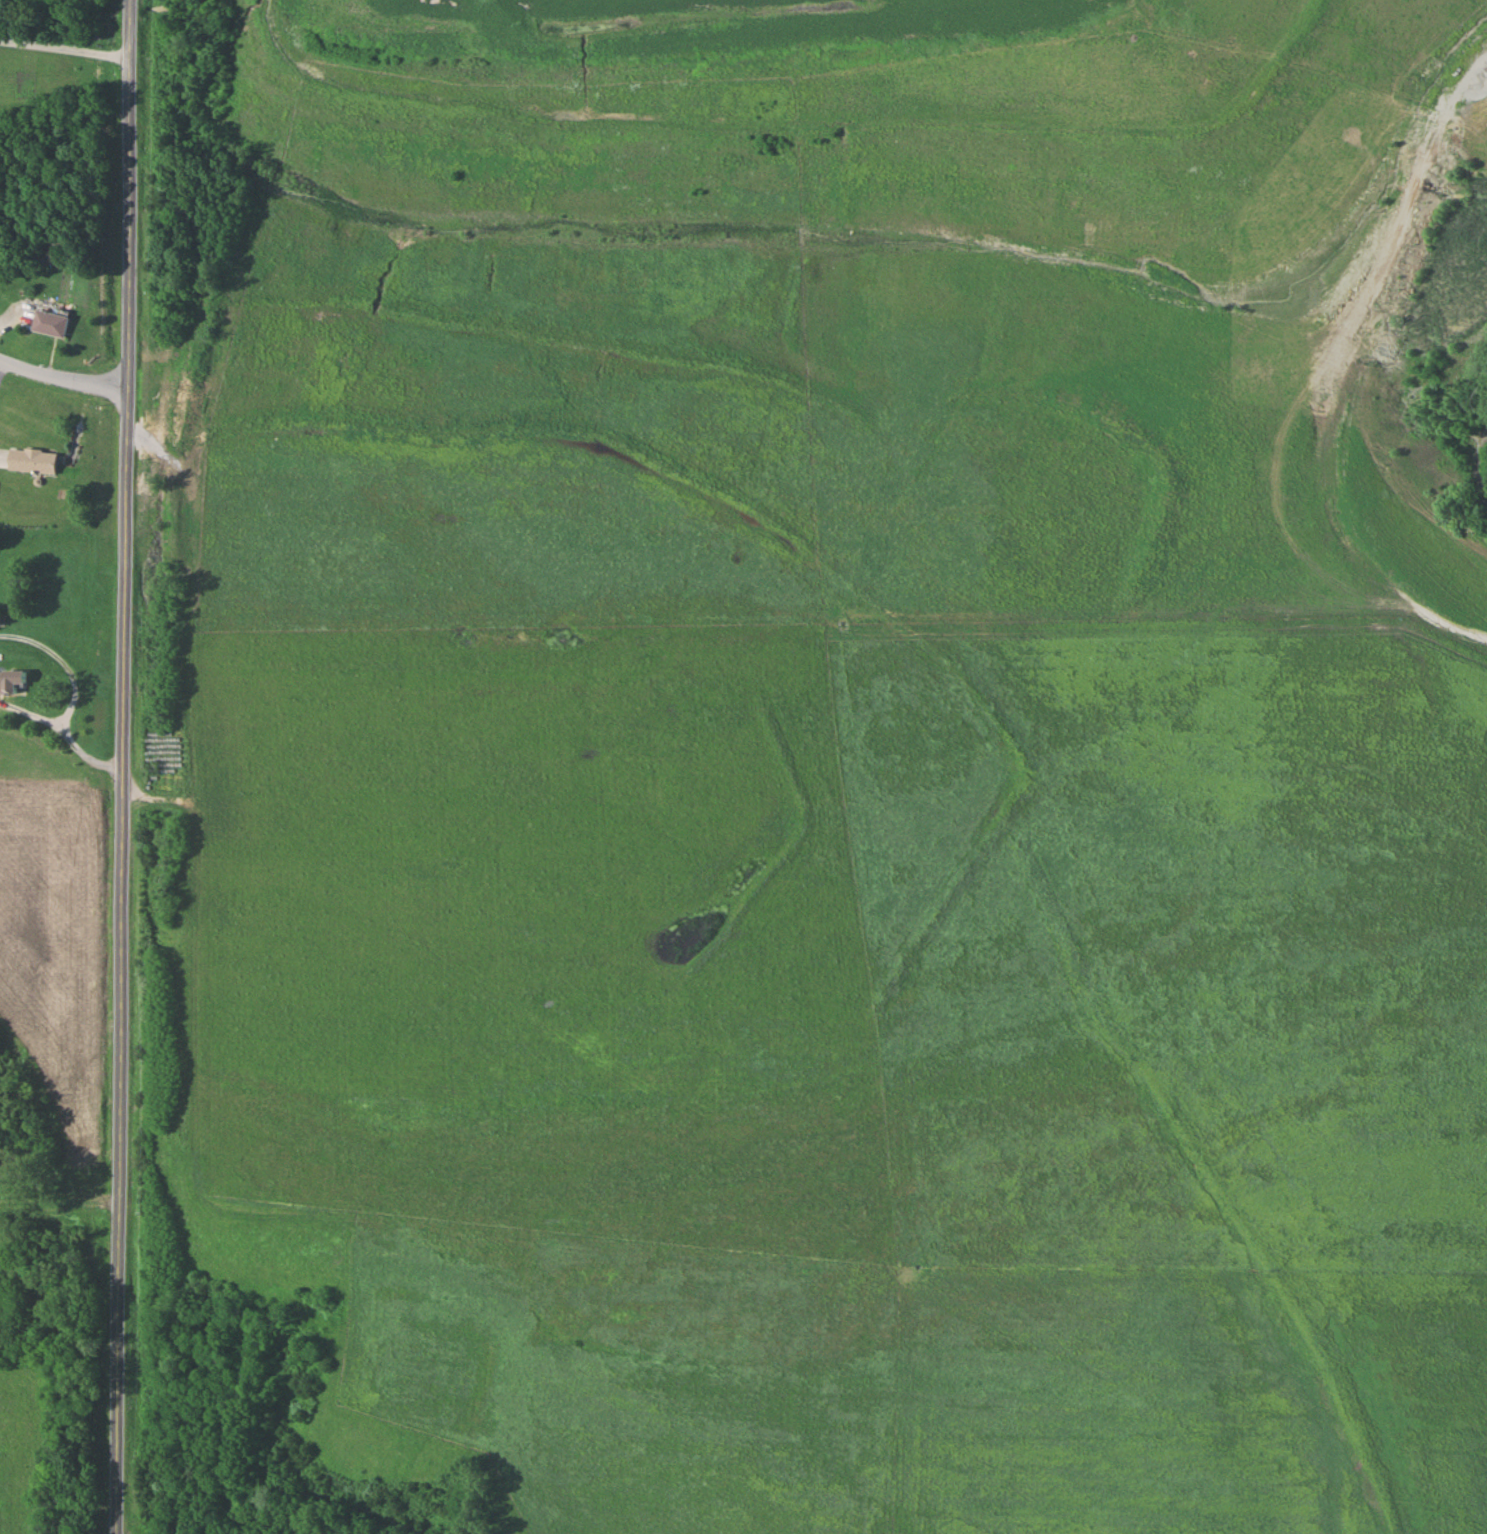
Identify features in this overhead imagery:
road: (66, 49)
building: (54, 253)
building: (49, 323)
road: (63, 379)
road: (1370, 450)
building: (32, 461)
road: (109, 679)
building: (12, 682)
road: (87, 686)
road: (126, 766)

